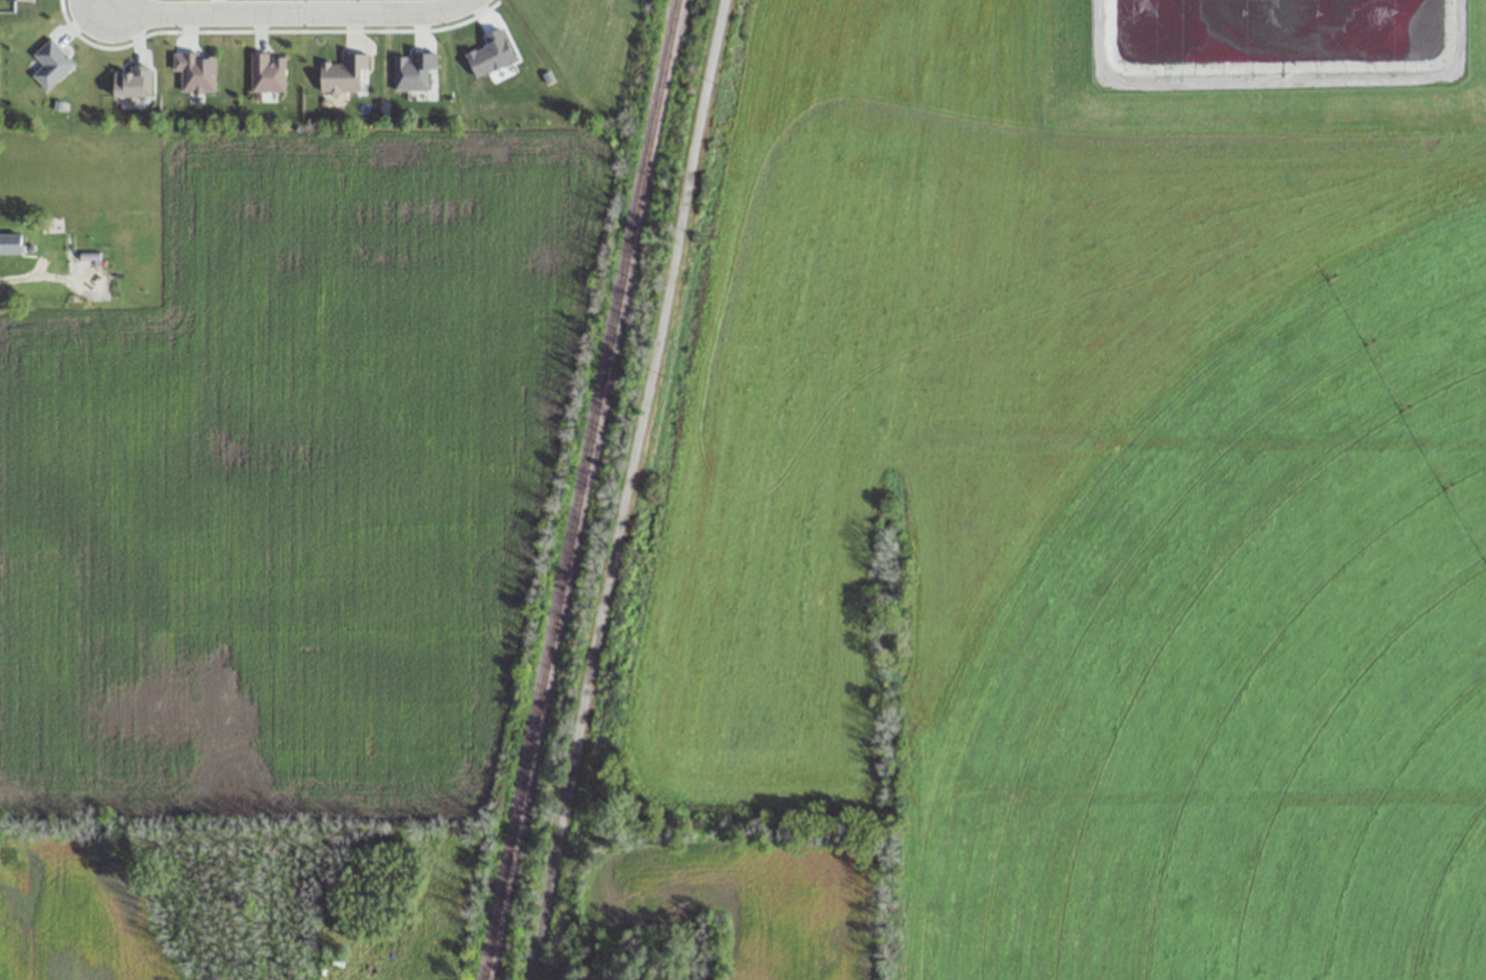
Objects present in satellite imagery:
road: (288, 12)
building: (266, 72)
building: (343, 74)
building: (11, 243)
railway: (579, 490)
road: (624, 490)

